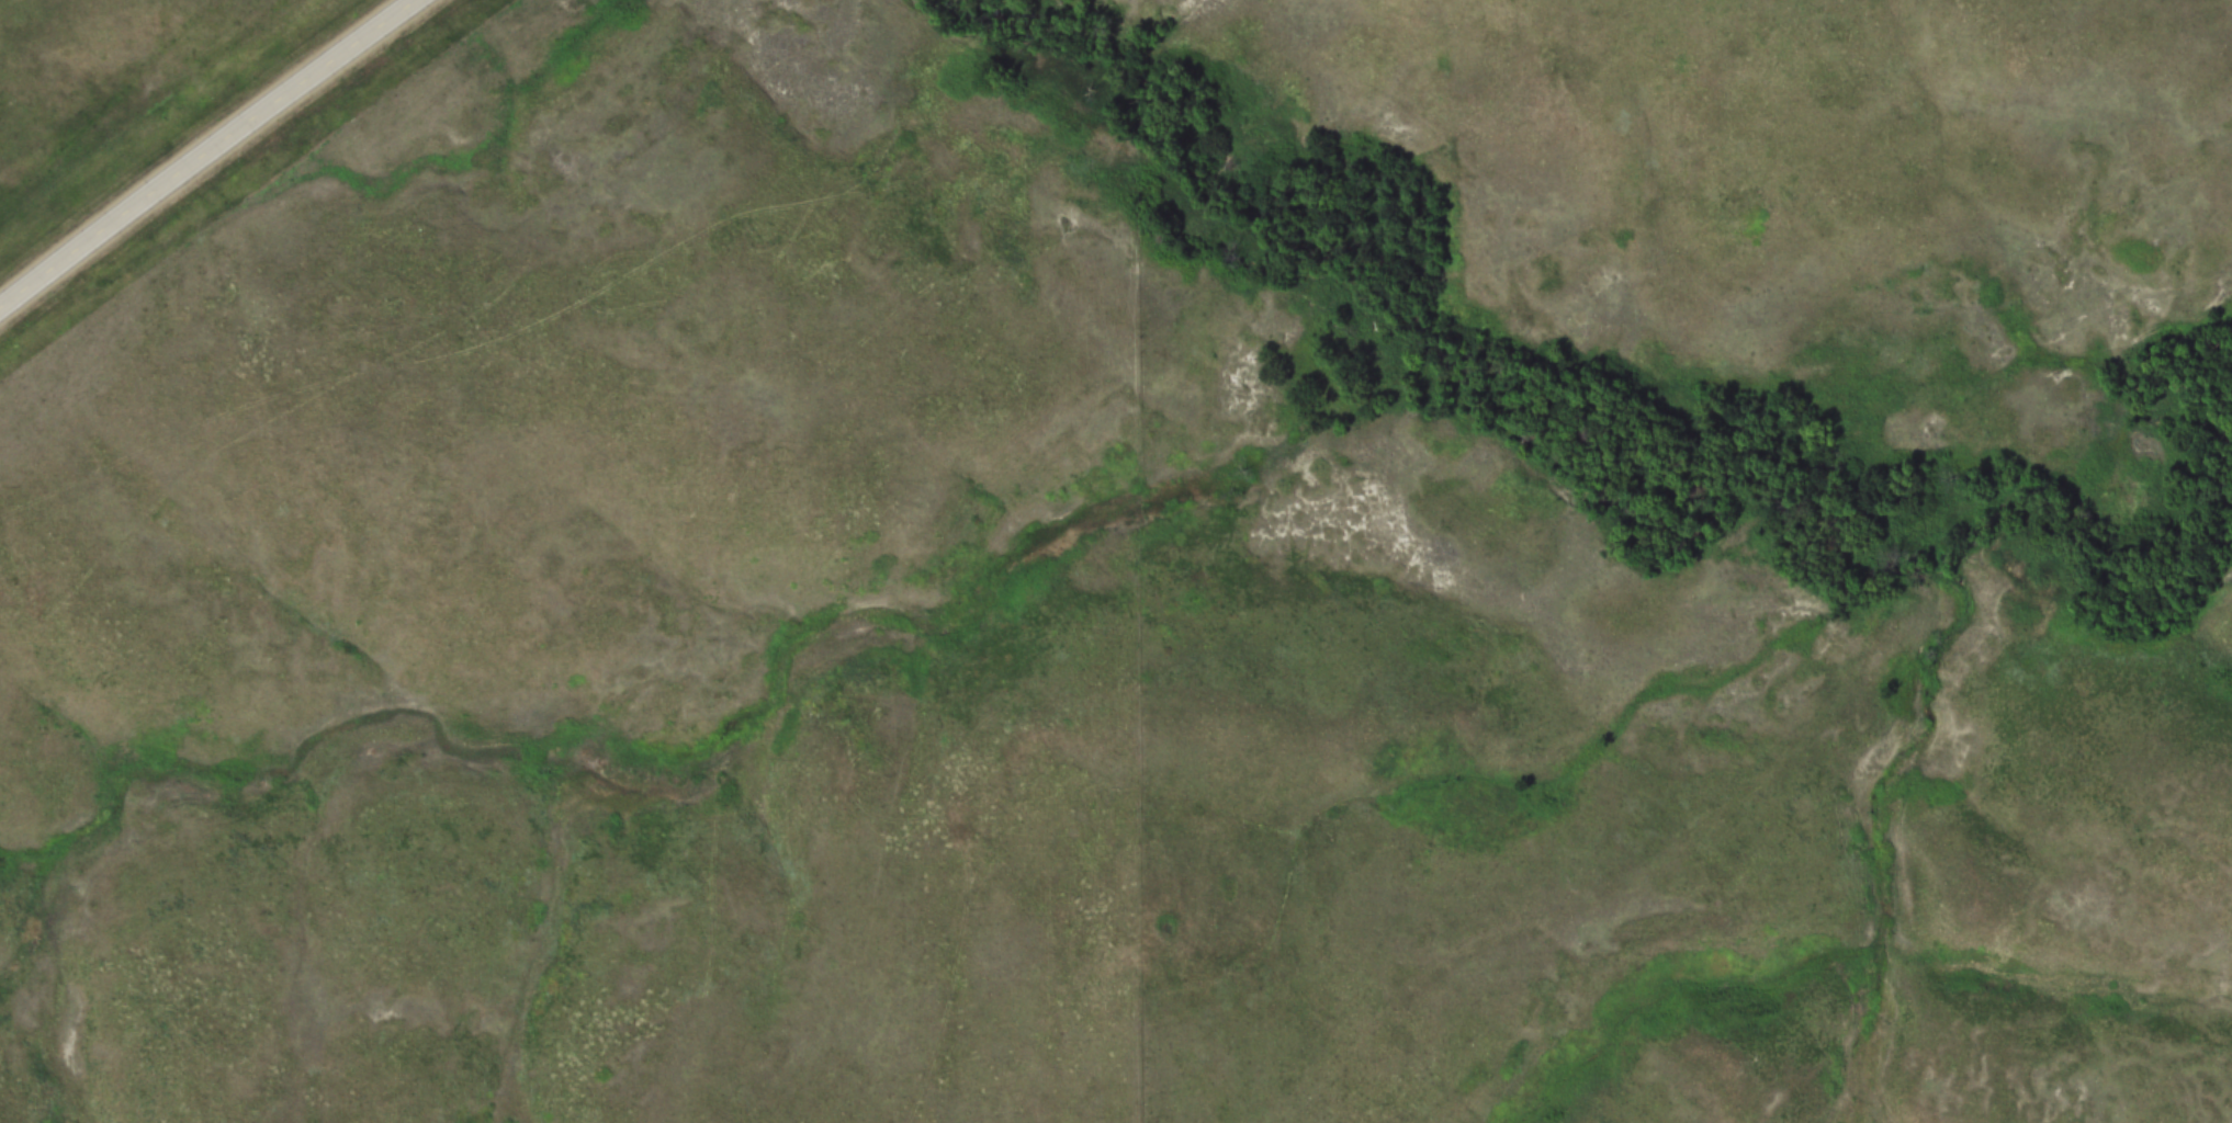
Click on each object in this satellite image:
road: (204, 149)

